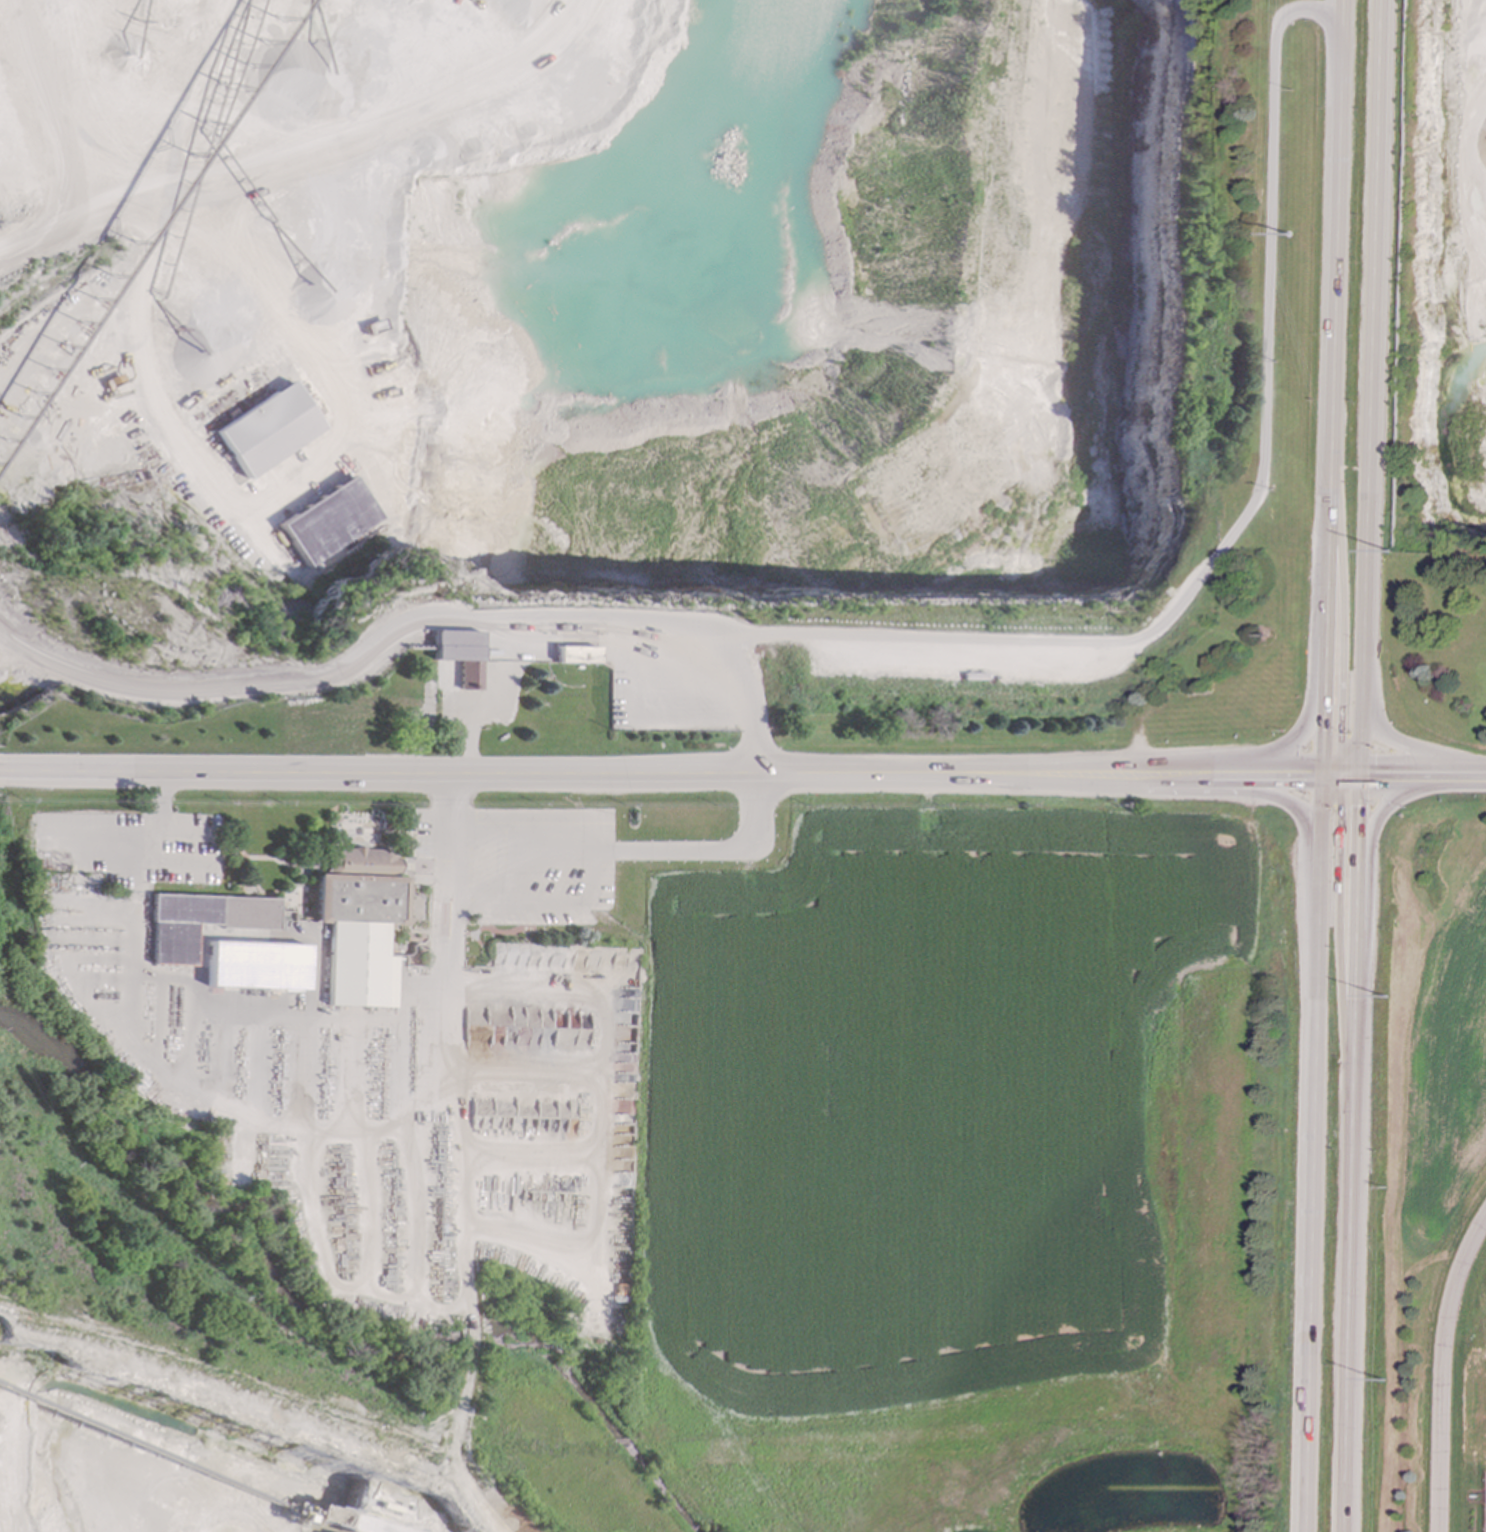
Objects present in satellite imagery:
power tower: (1317, 235)
quarry: (1447, 289)
quarry: (667, 376)
road: (1333, 385)
road: (1371, 385)
building: (292, 430)
building: (352, 522)
road: (1242, 525)
power tower: (1406, 555)
road: (547, 622)
building: (458, 655)
building: (575, 655)
road: (1319, 701)
road: (746, 702)
road: (1415, 749)
road: (40, 766)
road: (650, 769)
road: (1275, 772)
traffic signals: (1330, 772)
road: (1348, 772)
traffic signals: (1366, 772)
road: (1401, 772)
road: (1461, 773)
road: (1236, 793)
road: (633, 856)
road: (136, 858)
road: (1374, 869)
building: (200, 922)
building: (359, 925)
building: (255, 966)
power tower: (1387, 1000)
road: (340, 1131)
road: (1316, 1151)
road: (1355, 1151)
quarry: (649, 1161)
road: (1441, 1369)
power tower: (1384, 1382)

